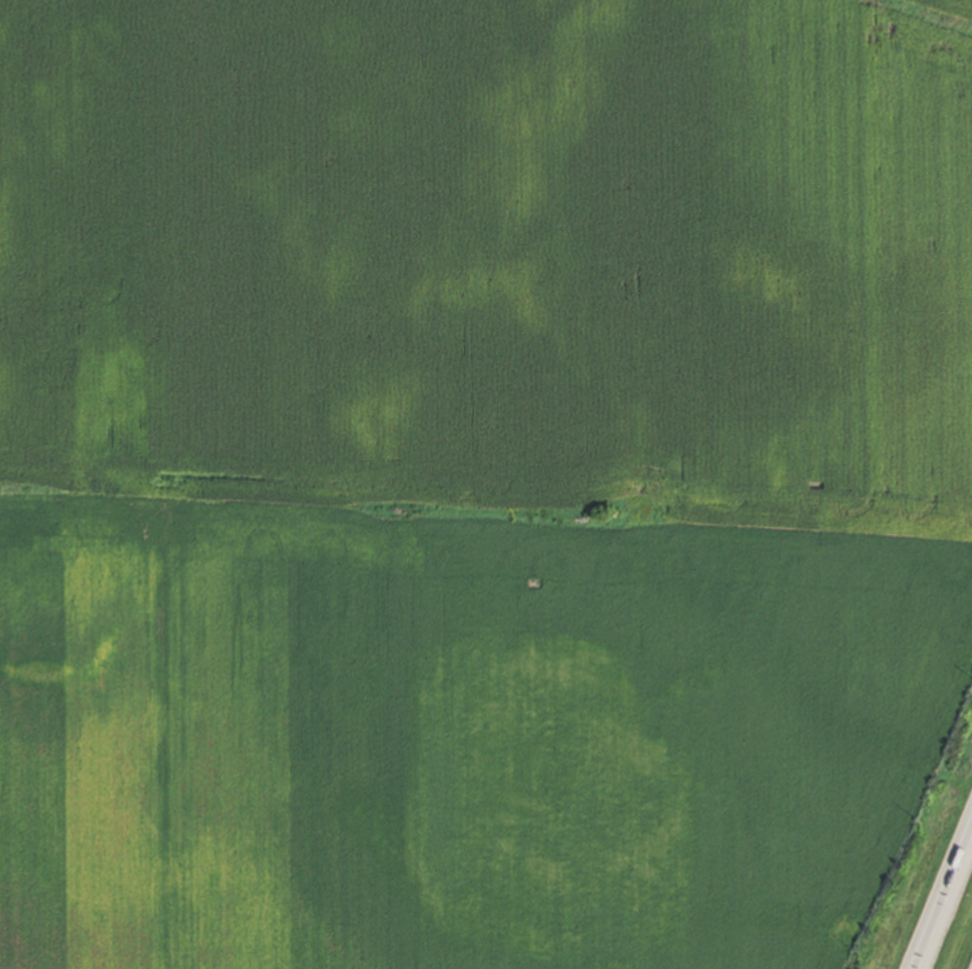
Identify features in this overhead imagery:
road: (939, 888)

